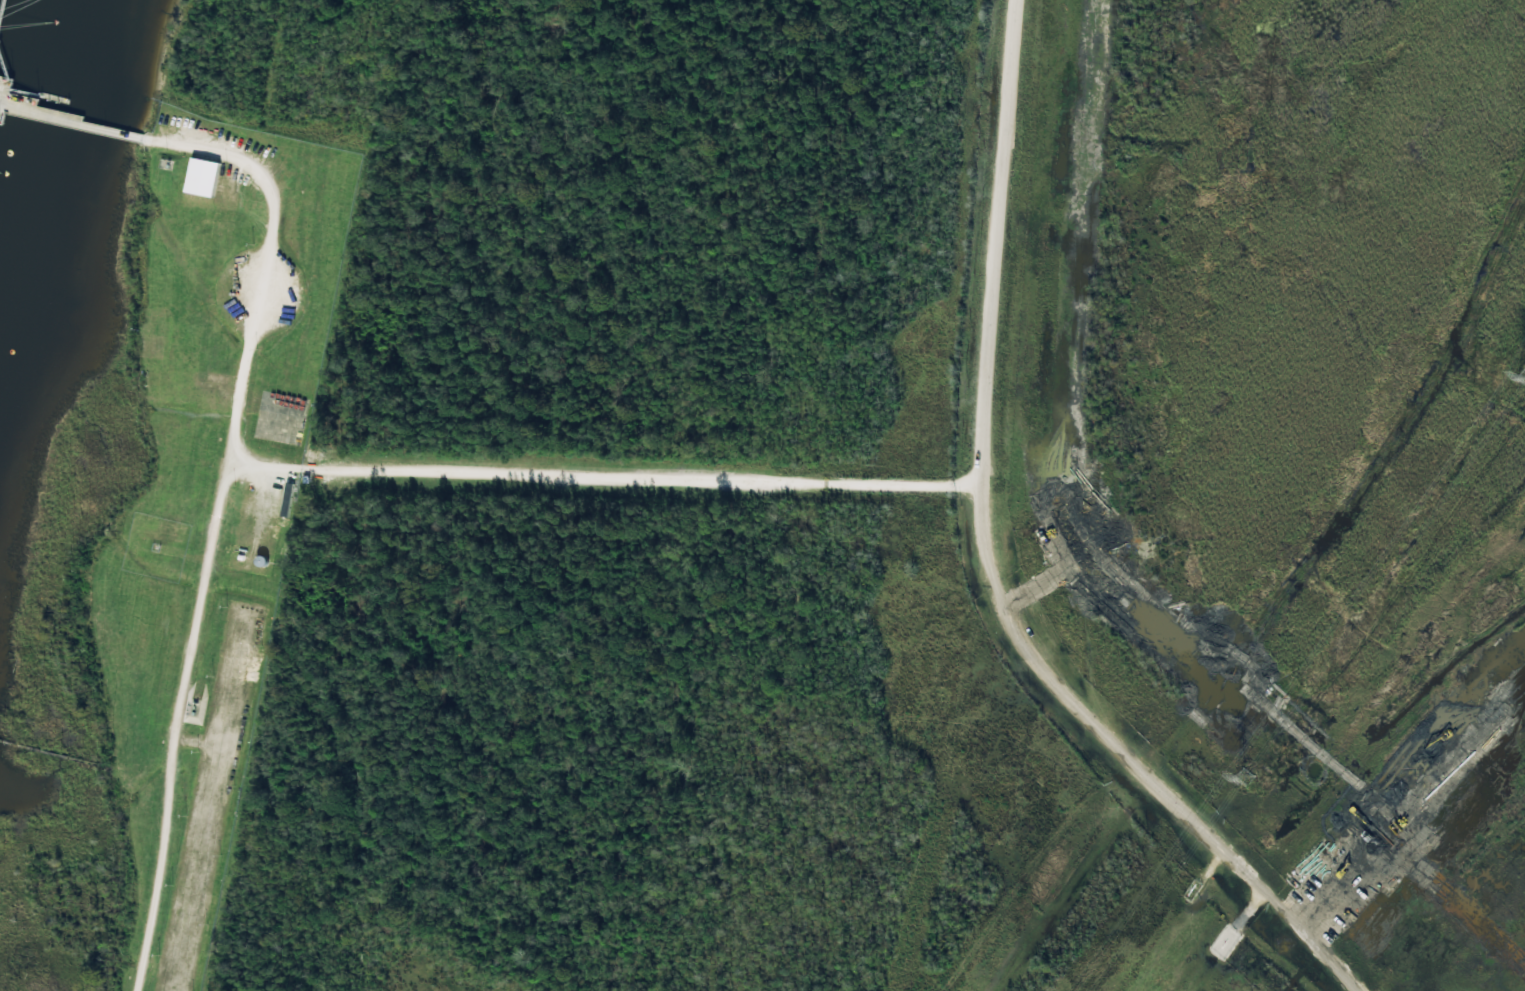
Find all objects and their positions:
road: (2, 11)
road: (4, 65)
road: (26, 92)
pier: (52, 98)
pier: (53, 114)
building: (166, 164)
building: (202, 177)
road: (266, 260)
parking lot: (260, 293)
road: (1085, 390)
road: (983, 417)
parking lot: (279, 418)
road: (265, 466)
road: (639, 476)
building: (286, 499)
building: (240, 558)
building: (261, 561)
storage tank: (261, 561)
building: (194, 704)
road: (176, 725)
road: (189, 740)
road: (55, 754)
power tower: (1244, 779)
parking lot: (208, 803)
road: (1249, 882)

